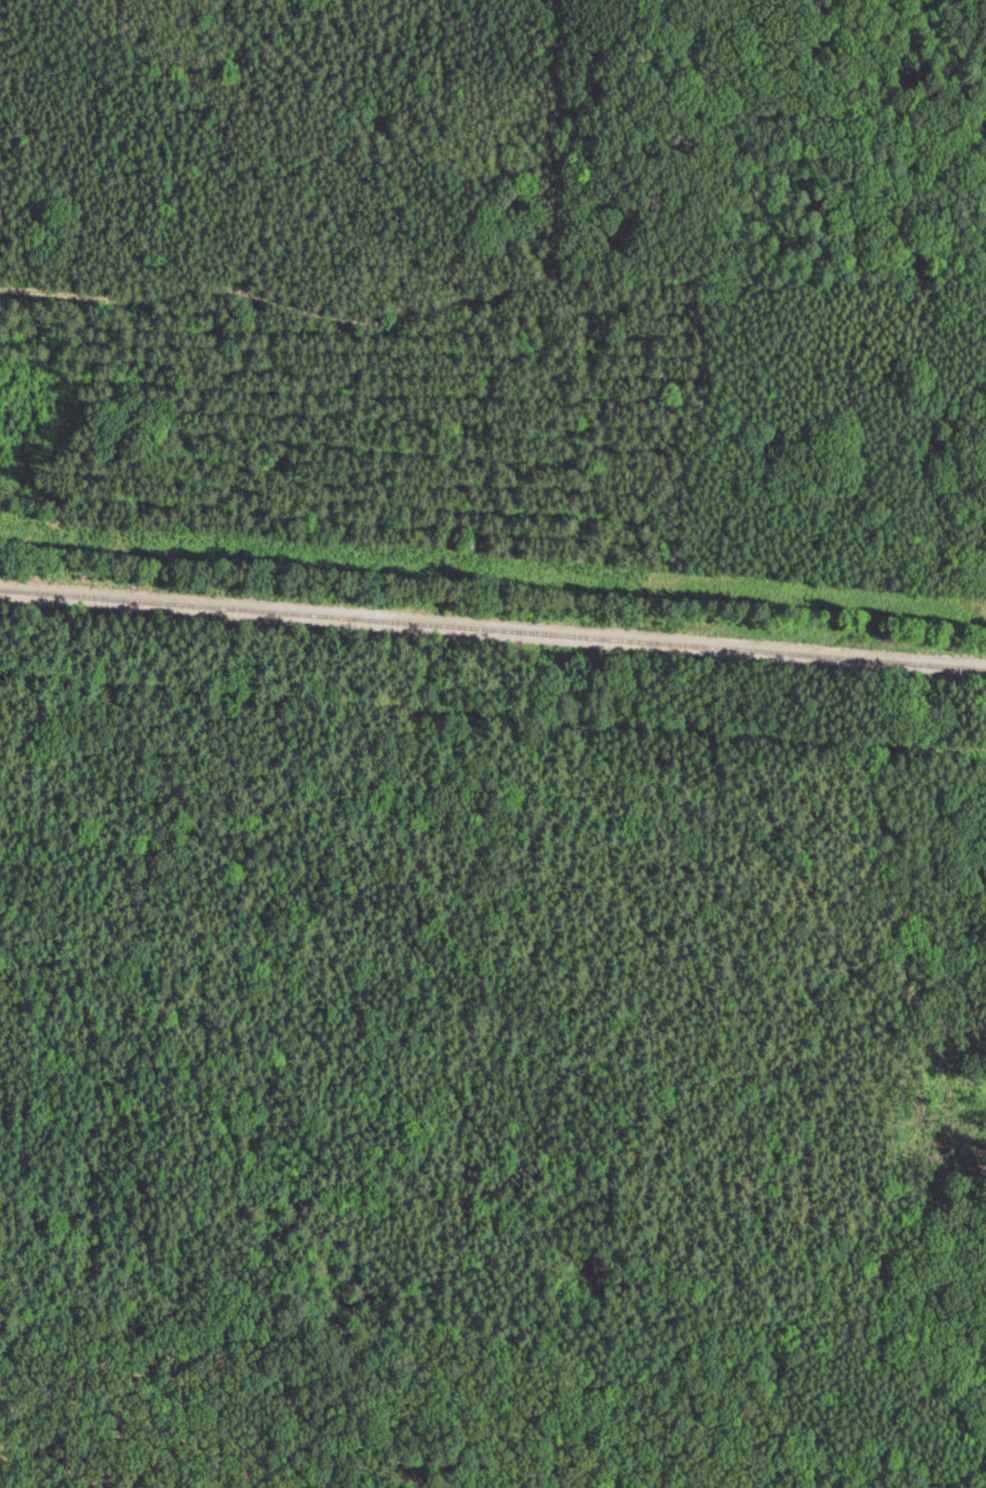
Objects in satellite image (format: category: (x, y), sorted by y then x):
road: (391, 139)
road: (493, 277)
railway: (493, 627)
road: (817, 743)

